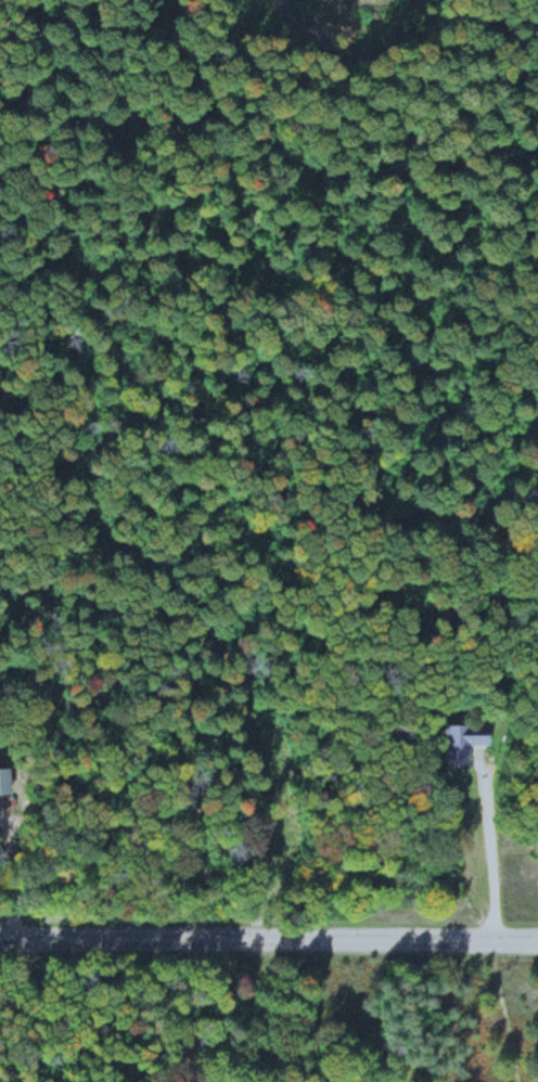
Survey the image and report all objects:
building: (3, 780)
road: (488, 832)
road: (9, 870)
road: (268, 935)

